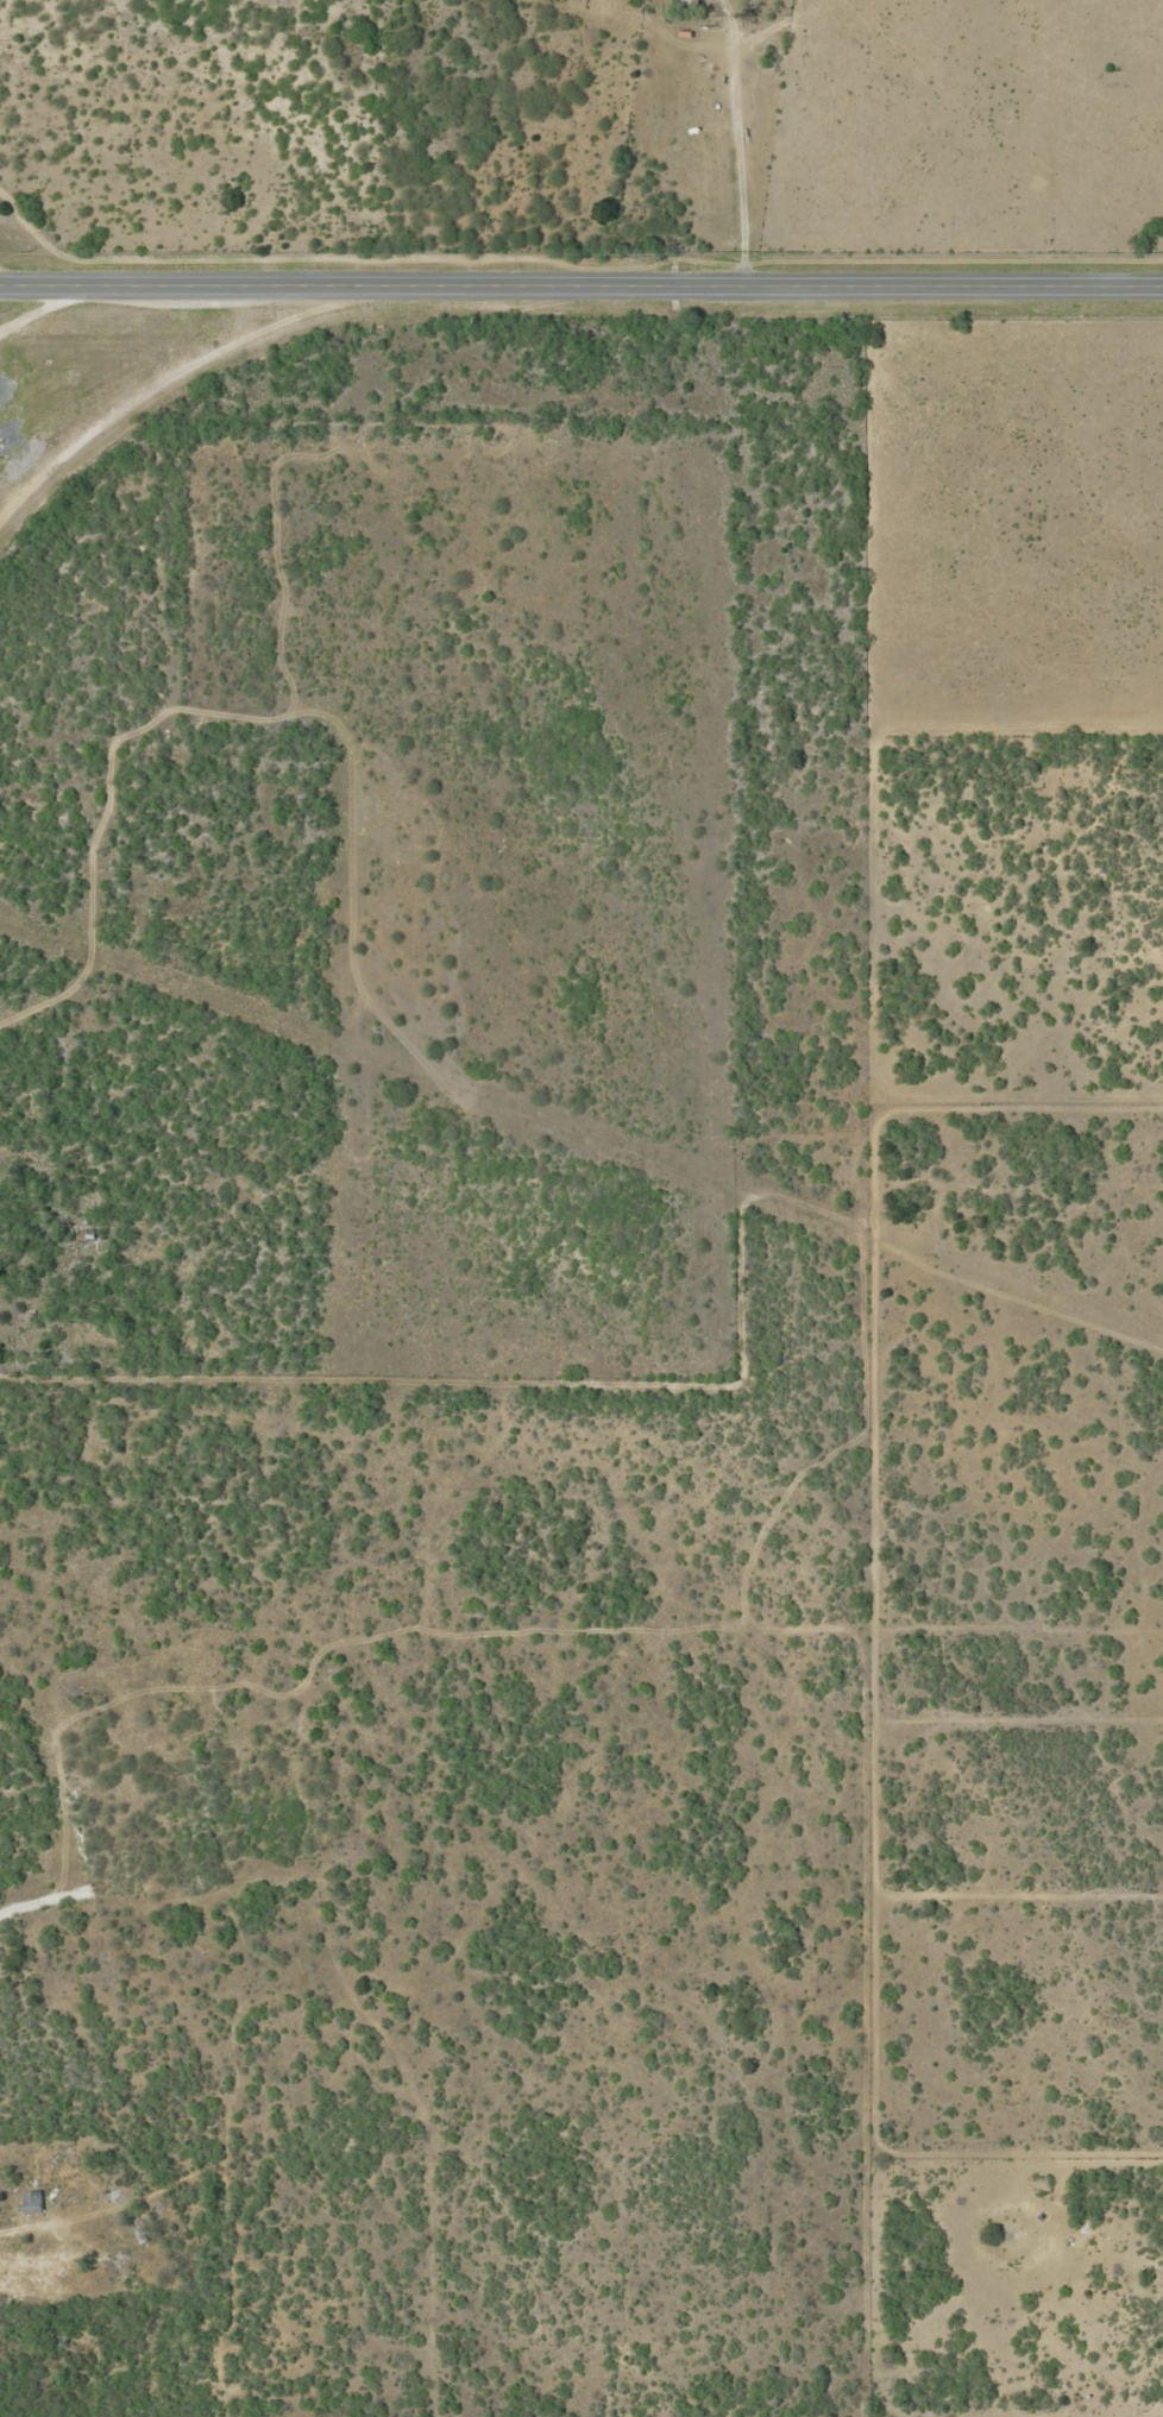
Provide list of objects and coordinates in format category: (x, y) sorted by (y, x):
road: (817, 276)
road: (235, 279)
road: (212, 353)
building: (83, 1234)
building: (32, 2201)

